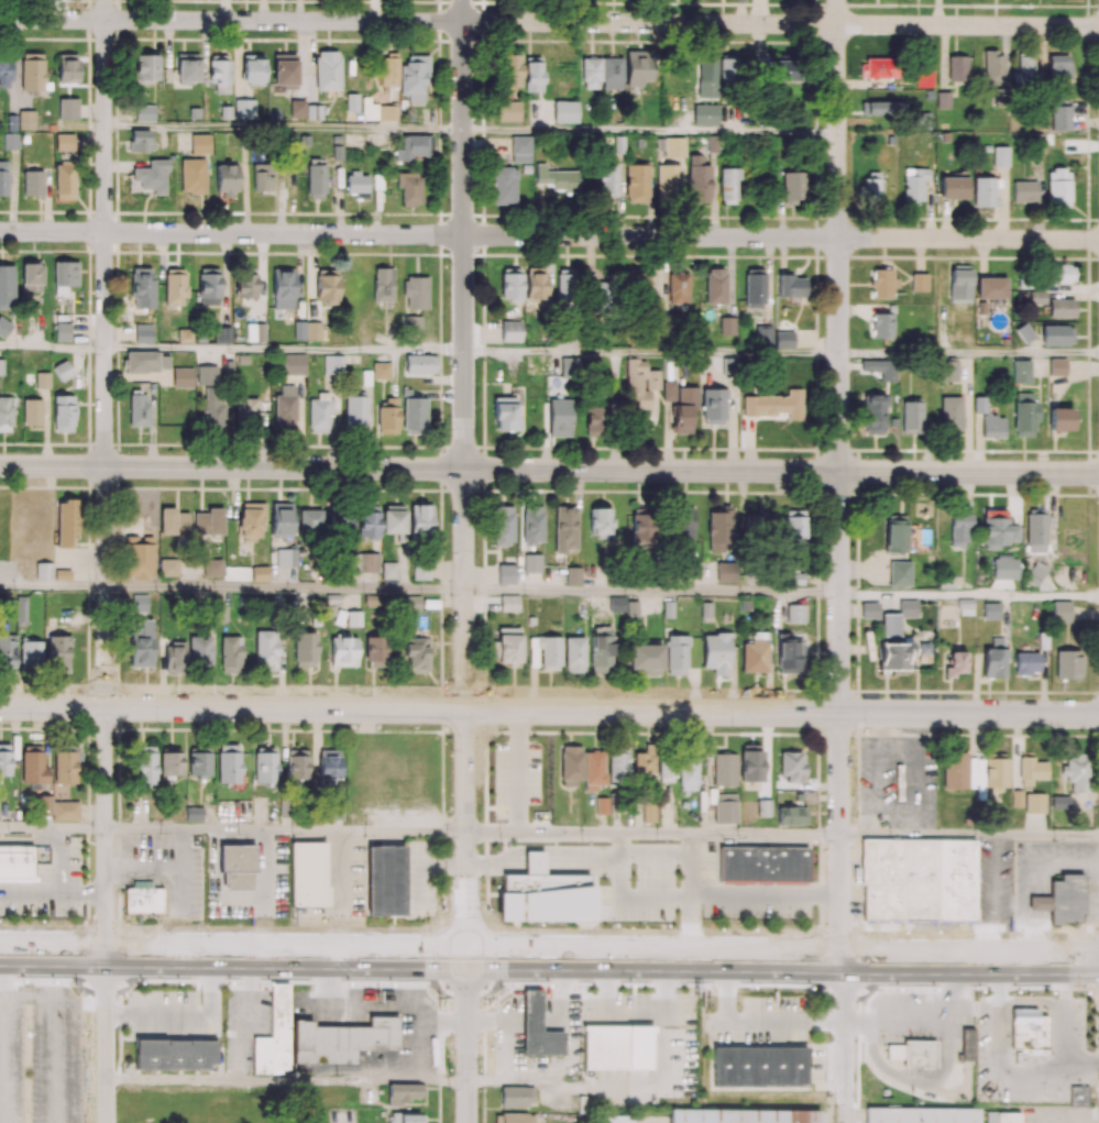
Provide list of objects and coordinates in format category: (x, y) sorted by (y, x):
road: (549, 22)
road: (284, 124)
road: (549, 235)
road: (53, 348)
road: (285, 350)
road: (651, 353)
road: (969, 355)
road: (549, 469)
road: (106, 476)
road: (464, 478)
road: (839, 480)
road: (53, 585)
road: (285, 587)
road: (652, 591)
road: (969, 595)
road: (549, 711)
street lamp: (733, 728)
street lamp: (866, 728)
road: (52, 828)
road: (285, 830)
road: (652, 833)
road: (969, 834)
road: (31, 840)
road: (63, 860)
building: (15, 862)
building: (534, 863)
road: (1067, 863)
building: (762, 865)
building: (237, 866)
building: (308, 877)
building: (17, 880)
building: (916, 880)
building: (385, 881)
road: (31, 891)
road: (84, 892)
road: (690, 895)
road: (765, 895)
road: (994, 898)
building: (141, 899)
building: (546, 899)
building: (1066, 900)
building: (1038, 904)
road: (1034, 911)
street lamp: (77, 924)
street lamp: (195, 924)
street lamp: (323, 925)
street lamp: (425, 926)
street lamp: (706, 929)
street lamp: (809, 929)
street lamp: (934, 929)
street lamp: (1047, 932)
road: (178, 954)
road: (413, 956)
traffic signals: (466, 957)
road: (516, 957)
road: (832, 959)
street lamp: (17, 982)
street lamp: (152, 982)
road: (408, 983)
street lamp: (259, 984)
road: (341, 984)
street lamp: (493, 984)
road: (508, 984)
street lamp: (626, 987)
street lamp: (750, 988)
street lamp: (866, 988)
street lamp: (987, 990)
street lamp: (1079, 992)
road: (183, 1013)
road: (607, 1013)
road: (417, 1020)
road: (564, 1022)
road: (915, 1023)
road: (748, 1025)
road: (503, 1027)
building: (536, 1030)
building: (1026, 1032)
building: (272, 1036)
road: (105, 1038)
road: (466, 1039)
road: (842, 1041)
building: (337, 1042)
building: (965, 1046)
building: (605, 1048)
building: (639, 1048)
building: (893, 1052)
building: (917, 1054)
building: (174, 1055)
building: (759, 1067)
road: (285, 1079)
road: (628, 1087)
building: (1077, 1097)
building: (919, 1115)
building: (740, 1116)
building: (1000, 1118)
building: (612, 1119)

